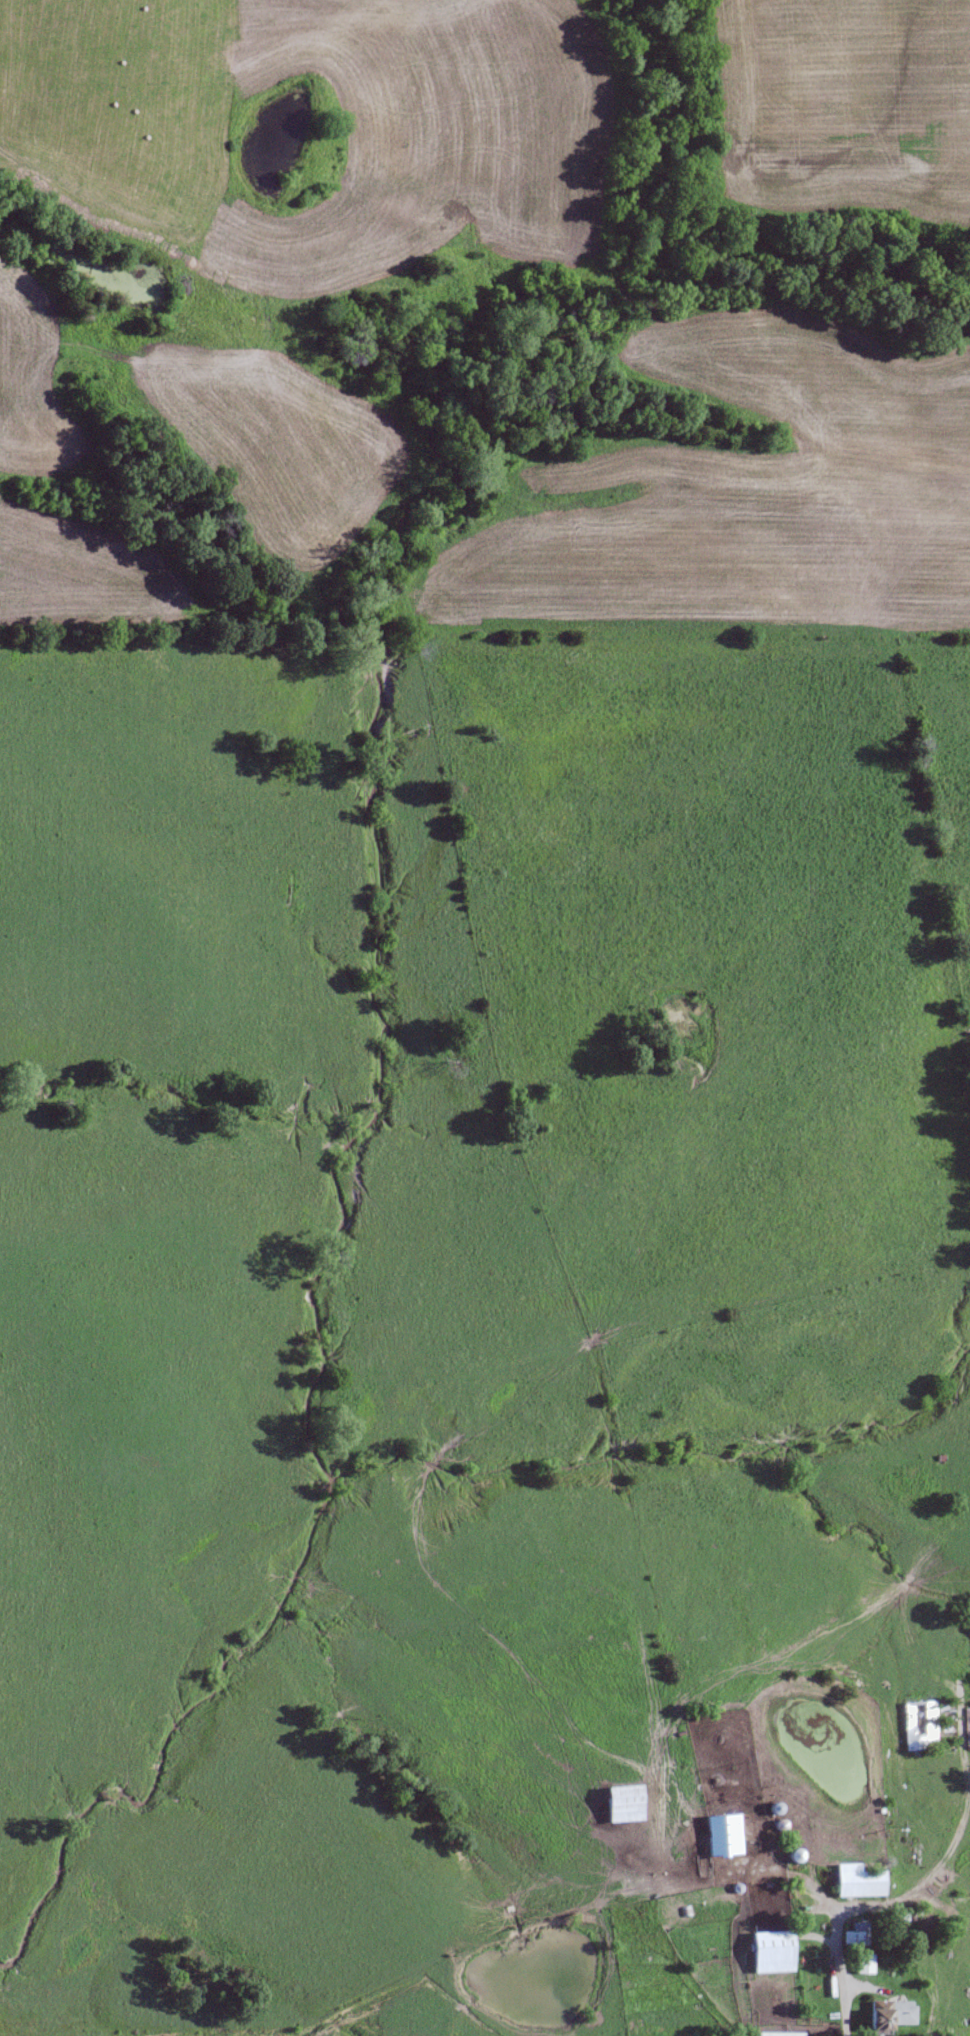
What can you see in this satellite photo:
building: (968, 1724)
building: (922, 1725)
building: (625, 1803)
road: (793, 1811)
building: (724, 1835)
road: (936, 1869)
building: (859, 1881)
building: (857, 1934)
building: (773, 1952)
building: (865, 1964)
road: (715, 2010)
building: (891, 2015)
building: (780, 2034)

